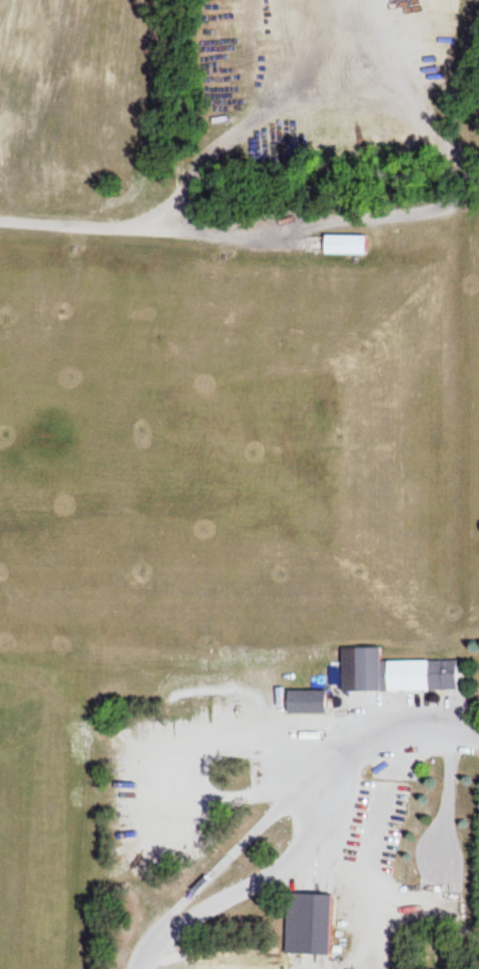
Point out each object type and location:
road: (446, 138)
road: (188, 169)
road: (332, 221)
road: (266, 240)
building: (343, 241)
landfill: (239, 484)
building: (390, 668)
building: (306, 696)
building: (430, 703)
parking lot: (430, 703)
road: (442, 795)
road: (288, 800)
parking lot: (372, 823)
road: (371, 826)
road: (313, 841)
road: (330, 871)
road: (208, 874)
road: (368, 903)
building: (306, 918)
road: (150, 936)
road: (356, 954)
road: (377, 955)
road: (312, 962)

